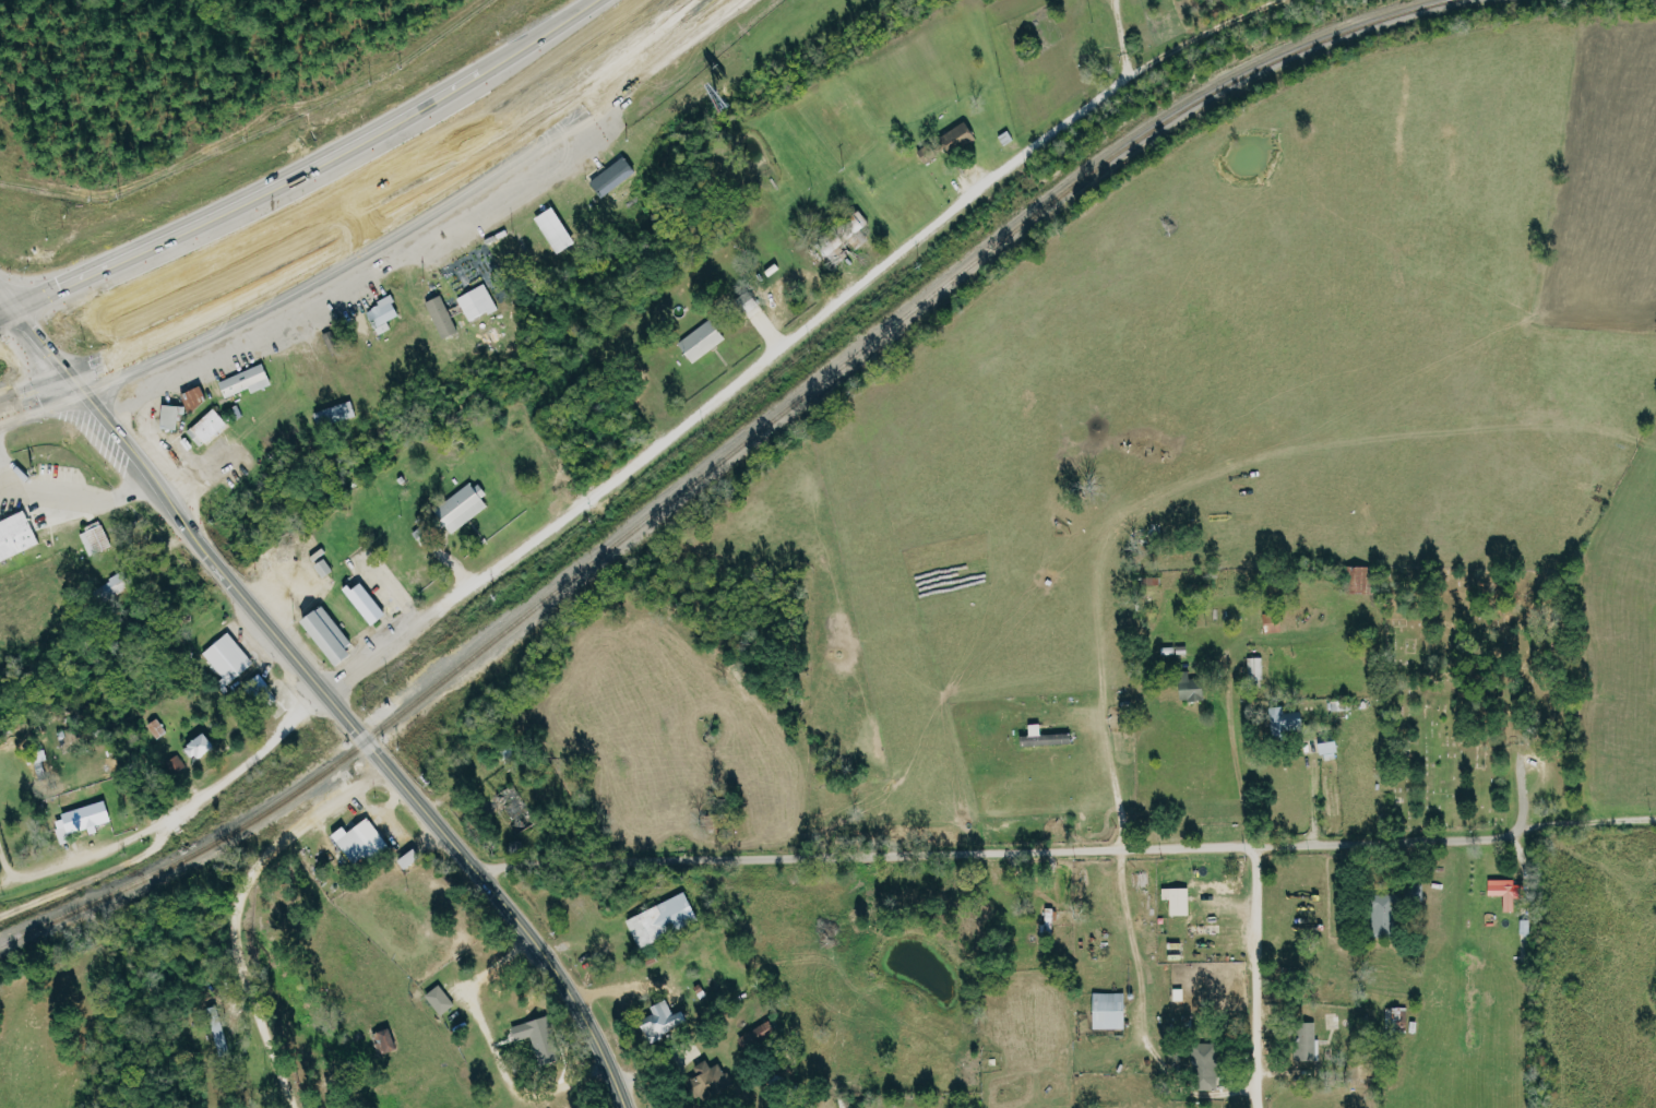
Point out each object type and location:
road: (1121, 36)
building: (961, 139)
building: (929, 153)
road: (307, 171)
building: (616, 177)
building: (613, 200)
road: (409, 224)
building: (559, 229)
traffic signals: (48, 291)
building: (479, 302)
building: (386, 313)
building: (444, 317)
building: (705, 339)
road: (29, 352)
building: (325, 371)
building: (386, 376)
building: (250, 380)
road: (726, 386)
traffic signals: (35, 396)
road: (29, 397)
building: (199, 397)
building: (337, 415)
building: (175, 416)
traffic signals: (84, 417)
building: (210, 427)
road: (99, 434)
railway: (716, 461)
parking lot: (59, 472)
road: (8, 485)
road: (70, 499)
building: (466, 505)
parking lot: (12, 510)
parking lot: (37, 516)
building: (426, 533)
building: (17, 536)
building: (98, 538)
building: (1355, 580)
road: (276, 584)
building: (118, 585)
building: (370, 603)
building: (333, 635)
building: (229, 658)
building: (1253, 668)
park: (1469, 684)
building: (1187, 688)
building: (1283, 720)
building: (1040, 737)
building: (204, 747)
building: (1324, 747)
road: (246, 756)
building: (177, 765)
road: (1235, 775)
road: (397, 784)
road: (1111, 786)
road: (1310, 795)
building: (514, 807)
building: (84, 820)
building: (356, 839)
road: (83, 846)
road: (1064, 851)
road: (3, 862)
road: (90, 870)
building: (1501, 893)
building: (1174, 899)
road: (234, 907)
building: (1377, 914)
building: (657, 918)
building: (1047, 919)
road: (1250, 977)
building: (437, 999)
building: (1105, 1010)
building: (1395, 1017)
building: (658, 1021)
building: (760, 1029)
building: (532, 1037)
building: (380, 1040)
building: (1303, 1041)
building: (1202, 1065)
building: (704, 1080)

